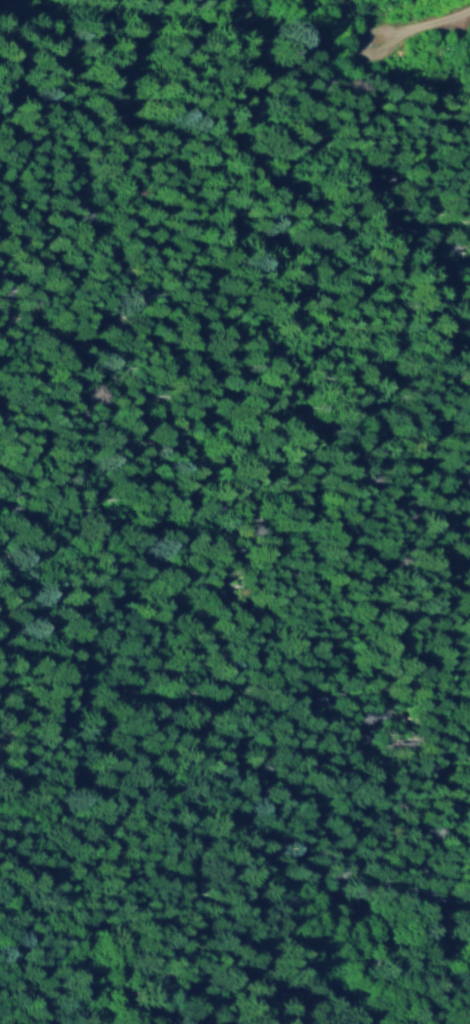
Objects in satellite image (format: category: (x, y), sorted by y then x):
road: (423, 30)

